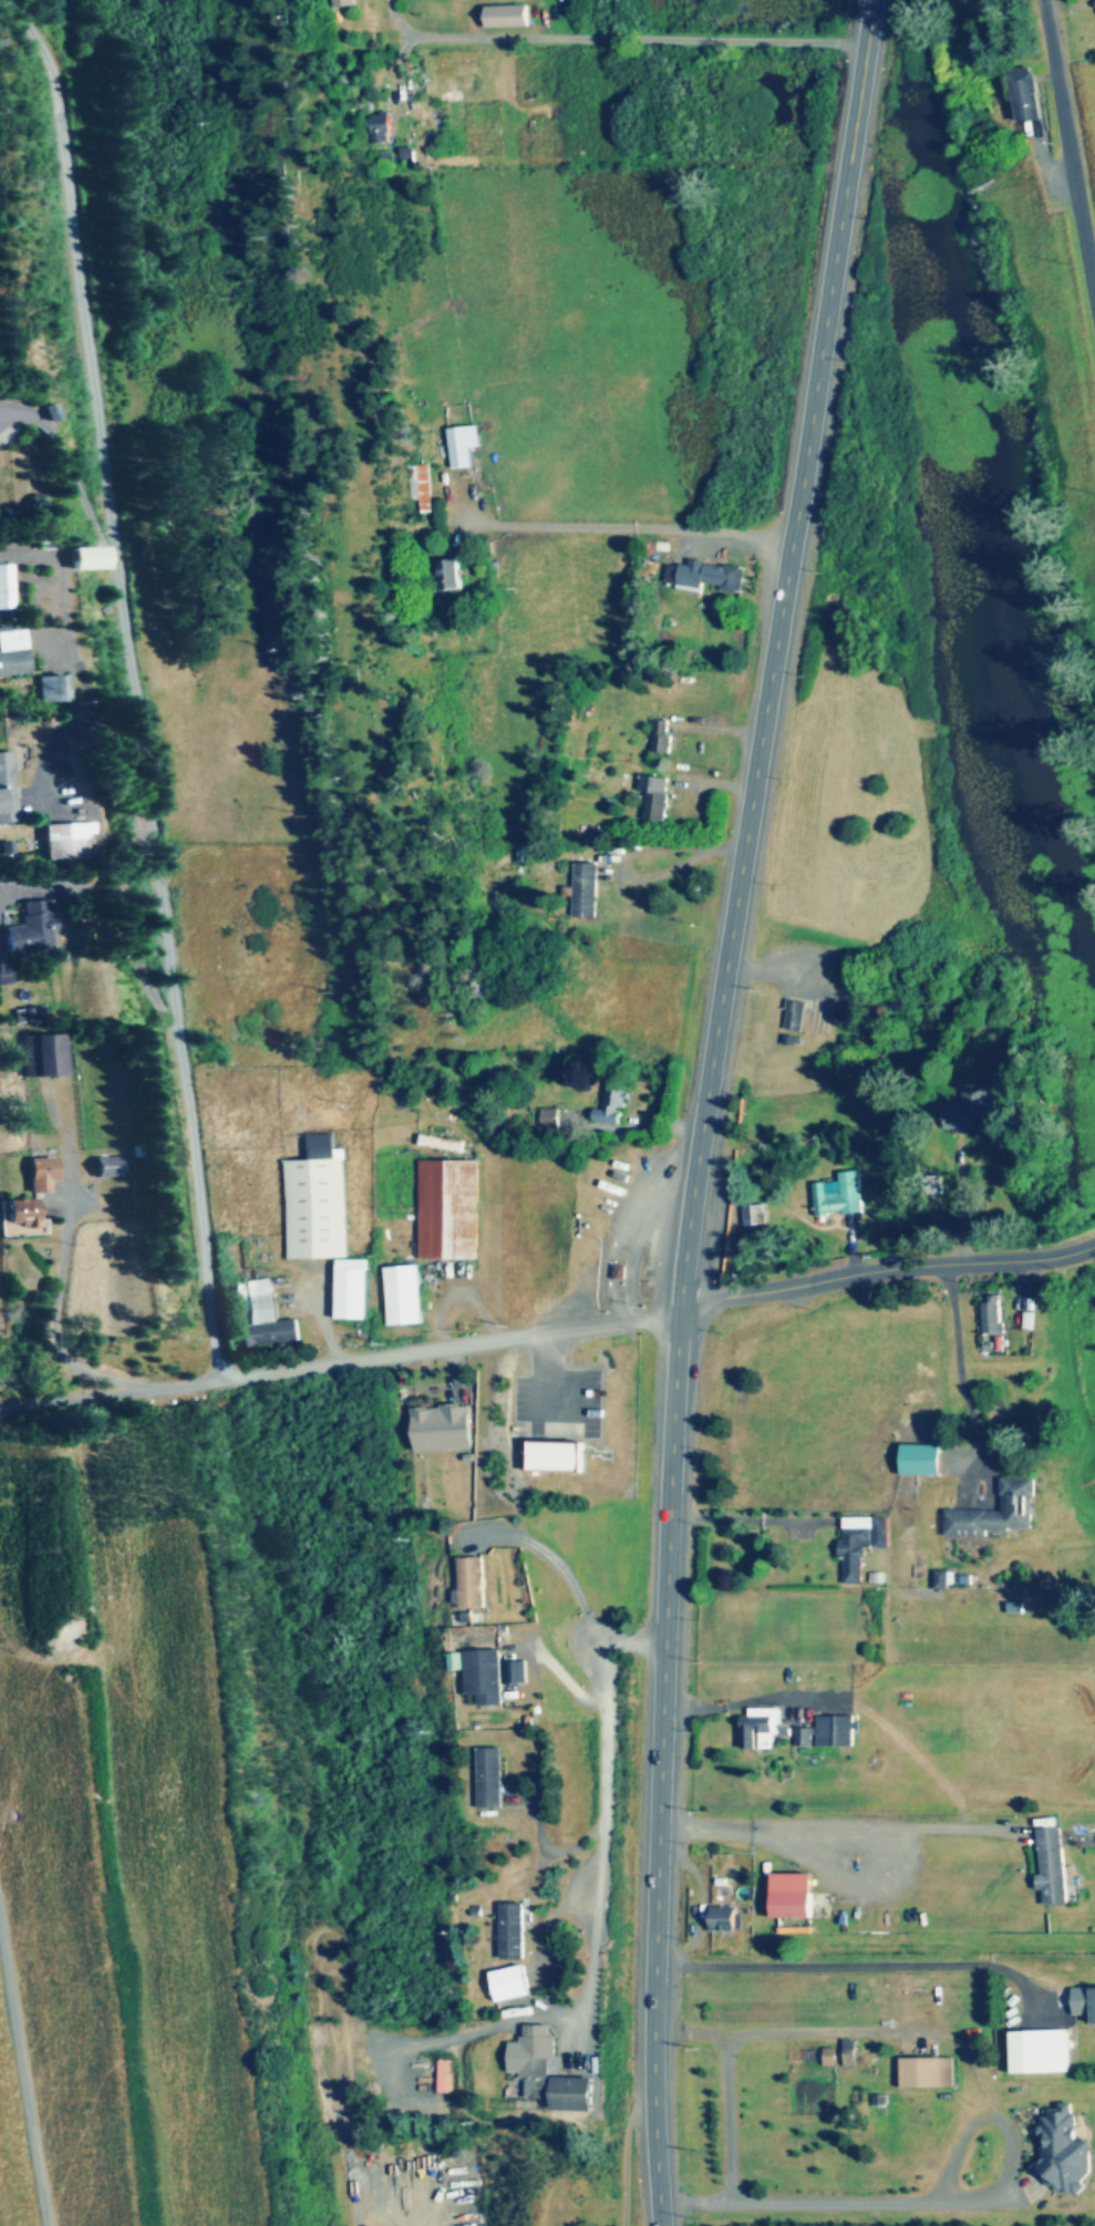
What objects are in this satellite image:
building: (1094, 0)
building: (338, 3)
building: (506, 16)
road: (619, 44)
building: (1021, 95)
building: (378, 128)
building: (406, 155)
road: (1066, 159)
building: (462, 444)
building: (419, 486)
road: (641, 532)
building: (80, 556)
building: (444, 574)
building: (709, 577)
building: (6, 586)
building: (12, 653)
road: (136, 684)
building: (49, 688)
road: (89, 699)
building: (661, 738)
building: (7, 787)
building: (655, 797)
building: (65, 839)
building: (587, 890)
building: (32, 927)
building: (795, 1017)
building: (820, 1017)
building: (45, 1054)
building: (614, 1102)
road: (709, 1107)
building: (968, 1112)
building: (104, 1172)
building: (40, 1174)
building: (839, 1195)
building: (314, 1203)
building: (448, 1208)
building: (755, 1215)
building: (17, 1217)
road: (908, 1269)
building: (350, 1294)
building: (403, 1295)
road: (703, 1306)
building: (993, 1315)
building: (264, 1316)
road: (454, 1349)
road: (964, 1380)
road: (111, 1397)
road: (0, 1410)
building: (443, 1428)
building: (562, 1432)
building: (920, 1460)
building: (996, 1512)
building: (861, 1543)
building: (941, 1579)
building: (473, 1581)
building: (519, 1672)
building: (482, 1673)
building: (828, 1732)
building: (757, 1734)
building: (490, 1777)
road: (609, 1811)
building: (1052, 1865)
building: (789, 1905)
building: (725, 1923)
building: (513, 1930)
building: (510, 1983)
building: (1084, 2002)
road: (27, 2045)
building: (1040, 2051)
building: (919, 2072)
building: (551, 2080)
building: (880, 2115)
building: (1062, 2150)
road: (426, 2215)

